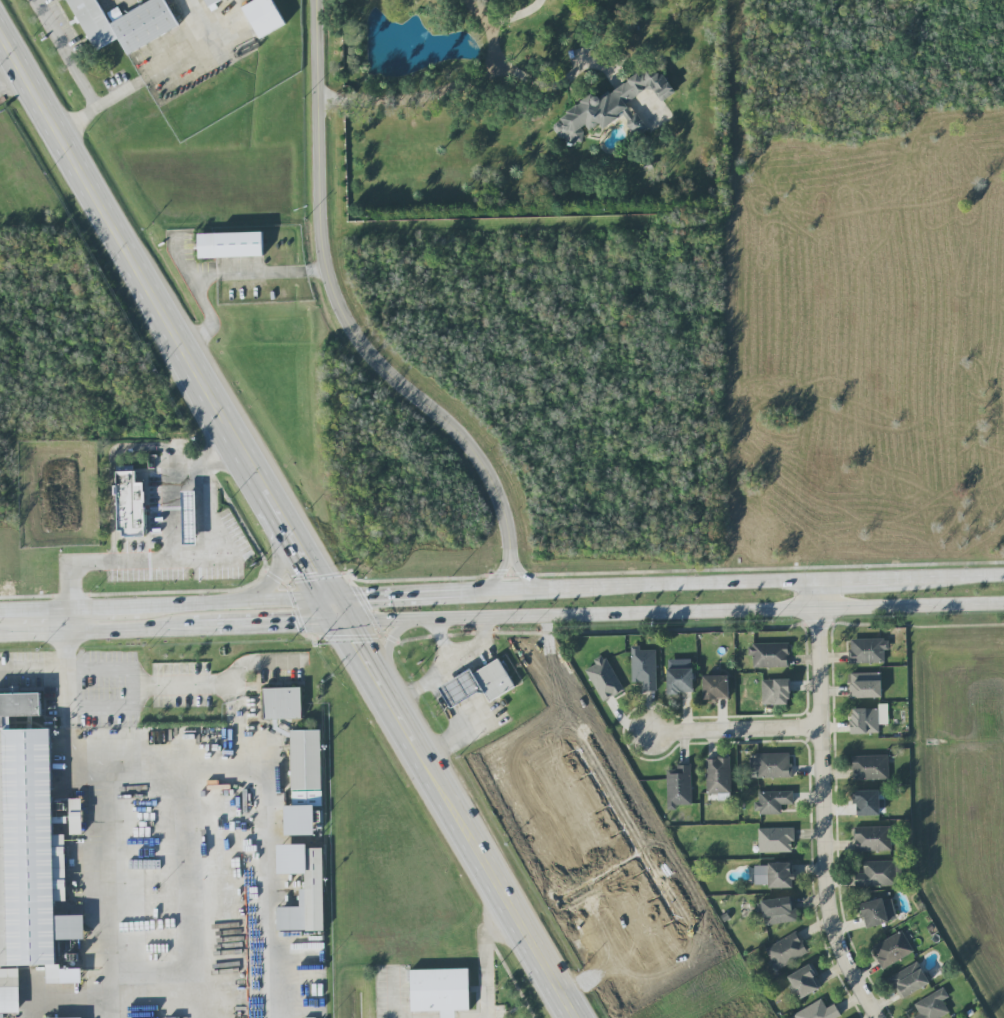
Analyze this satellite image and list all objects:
building: (210, 2)
building: (115, 14)
road: (516, 15)
building: (264, 17)
building: (124, 24)
road: (191, 50)
road: (70, 70)
road: (442, 84)
road: (553, 86)
road: (112, 97)
building: (611, 107)
building: (230, 245)
road: (142, 270)
road: (222, 273)
road: (344, 327)
building: (131, 505)
building: (190, 518)
road: (215, 531)
road: (307, 560)
road: (168, 561)
road: (278, 570)
road: (945, 578)
road: (853, 580)
road: (665, 586)
road: (200, 591)
road: (420, 594)
traffic signals: (329, 599)
road: (164, 606)
road: (336, 611)
road: (673, 611)
road: (171, 628)
road: (442, 646)
road: (385, 647)
building: (868, 650)
road: (360, 653)
building: (770, 655)
building: (644, 668)
road: (33, 670)
road: (446, 673)
building: (680, 676)
building: (604, 678)
road: (66, 679)
road: (142, 684)
building: (478, 684)
building: (866, 685)
building: (716, 687)
building: (776, 692)
road: (410, 697)
building: (283, 703)
building: (869, 719)
road: (735, 730)
road: (451, 733)
road: (214, 764)
building: (771, 765)
building: (870, 768)
building: (718, 776)
building: (305, 784)
building: (679, 787)
building: (773, 802)
building: (867, 802)
road: (823, 804)
building: (76, 816)
building: (873, 838)
building: (776, 840)
building: (31, 848)
road: (477, 850)
road: (254, 852)
building: (879, 874)
building: (774, 875)
building: (314, 881)
building: (779, 910)
building: (879, 912)
building: (892, 950)
building: (785, 951)
road: (484, 958)
road: (172, 973)
building: (910, 980)
building: (805, 981)
road: (107, 986)
building: (9, 991)
building: (440, 991)
building: (933, 1006)
road: (108, 1008)
building: (818, 1011)

